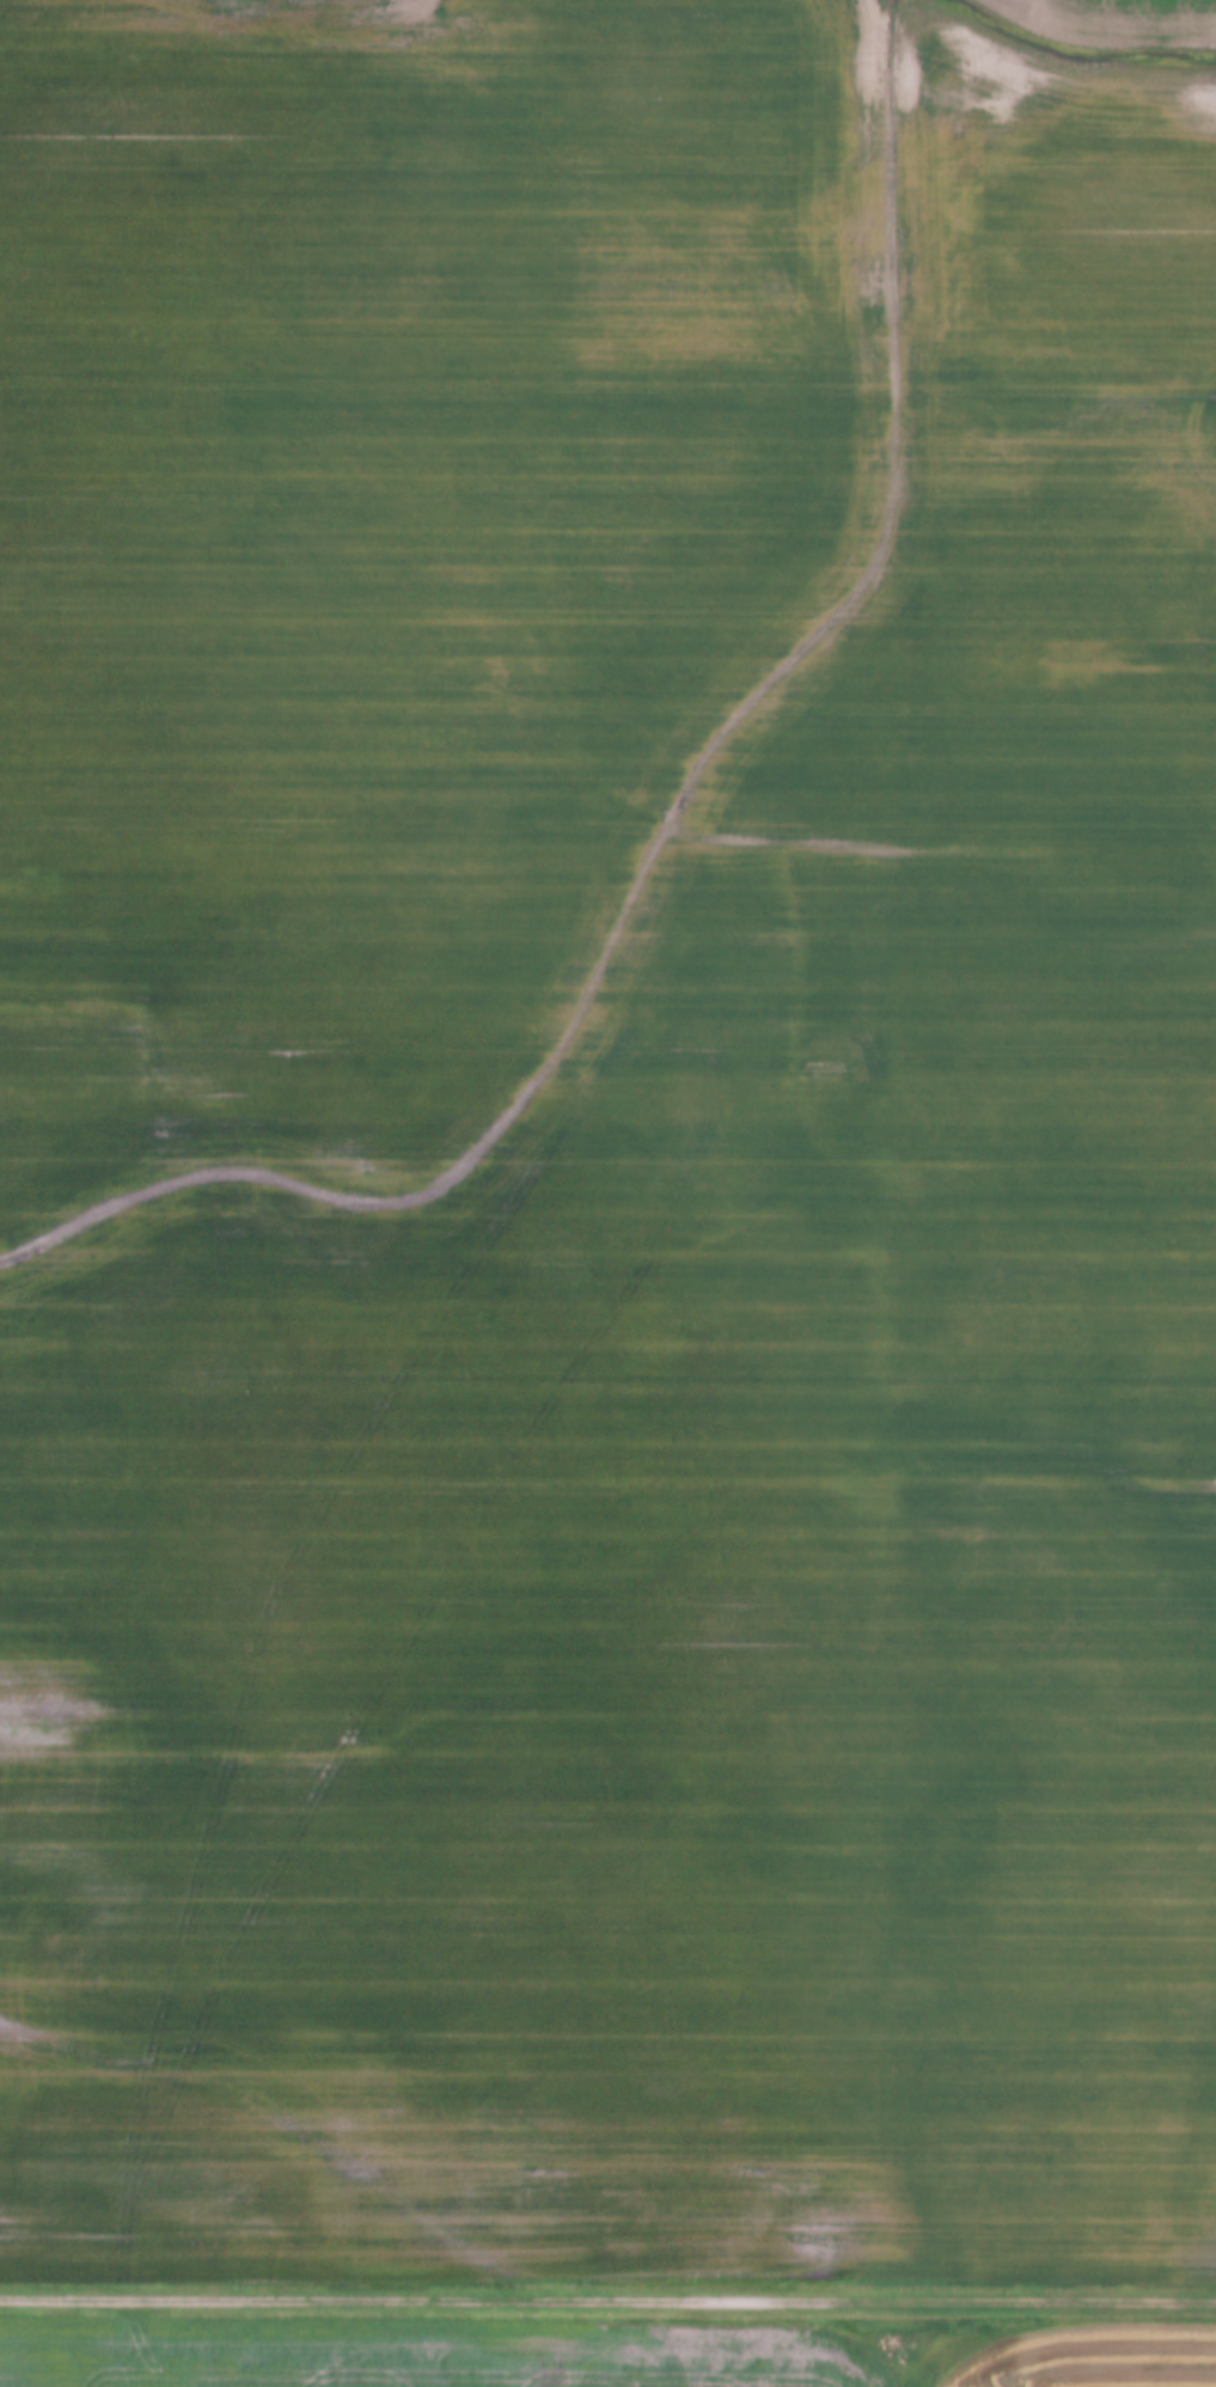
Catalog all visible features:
road: (607, 2302)

